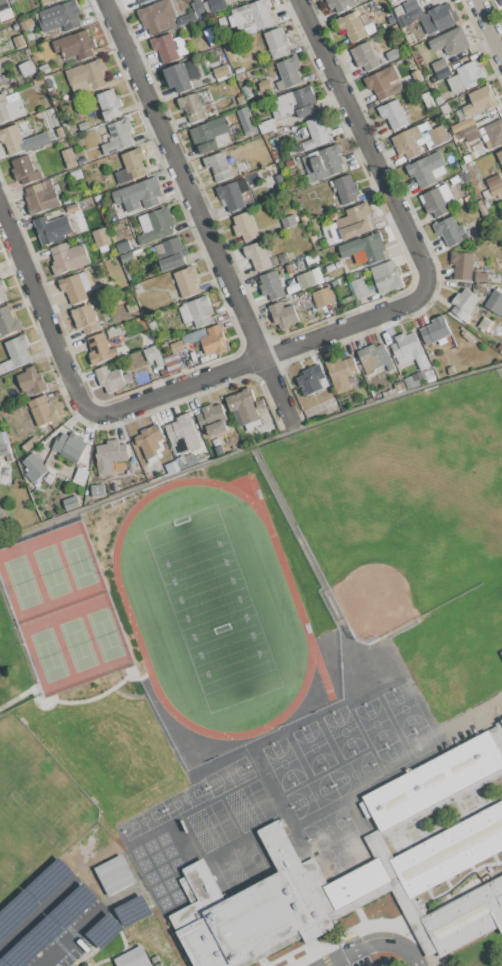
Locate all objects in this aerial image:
building: (402, 0)
building: (45, 1)
building: (141, 1)
building: (341, 4)
building: (3, 5)
building: (215, 5)
building: (410, 5)
building: (399, 10)
building: (199, 12)
building: (256, 12)
building: (5, 14)
building: (412, 14)
building: (158, 16)
building: (443, 16)
building: (60, 17)
building: (391, 20)
building: (26, 23)
road: (489, 25)
building: (15, 27)
building: (353, 27)
building: (451, 41)
building: (19, 42)
building: (213, 43)
building: (276, 43)
building: (76, 44)
building: (166, 48)
building: (393, 54)
building: (367, 57)
building: (439, 65)
building: (43, 68)
building: (26, 69)
building: (238, 70)
building: (221, 72)
building: (288, 73)
building: (442, 73)
building: (88, 74)
building: (469, 74)
building: (416, 77)
building: (179, 78)
building: (0, 83)
building: (383, 83)
building: (454, 84)
building: (264, 85)
building: (246, 91)
building: (428, 100)
building: (438, 100)
building: (291, 102)
building: (109, 104)
building: (477, 105)
building: (191, 106)
building: (10, 107)
building: (444, 108)
building: (305, 111)
building: (392, 114)
building: (44, 115)
building: (245, 119)
building: (266, 126)
building: (68, 129)
building: (470, 133)
building: (495, 133)
building: (316, 134)
building: (211, 135)
building: (435, 136)
building: (118, 137)
building: (12, 139)
building: (36, 141)
building: (407, 142)
road: (364, 143)
building: (274, 153)
building: (500, 157)
building: (69, 158)
building: (290, 163)
building: (323, 163)
building: (131, 166)
building: (218, 167)
building: (462, 167)
building: (271, 169)
building: (425, 169)
building: (25, 170)
building: (76, 175)
building: (465, 177)
building: (453, 180)
building: (493, 180)
building: (346, 189)
building: (245, 192)
building: (138, 195)
building: (42, 196)
building: (231, 196)
building: (466, 199)
building: (438, 200)
building: (487, 200)
road: (195, 205)
building: (72, 208)
building: (481, 208)
building: (288, 221)
building: (351, 223)
building: (158, 226)
building: (245, 226)
building: (52, 228)
building: (450, 231)
building: (101, 238)
building: (123, 246)
building: (365, 248)
building: (171, 254)
building: (258, 255)
building: (126, 257)
building: (68, 258)
building: (311, 258)
building: (297, 264)
building: (462, 265)
building: (288, 268)
building: (317, 275)
building: (386, 277)
building: (480, 277)
building: (492, 277)
building: (305, 280)
building: (84, 281)
building: (187, 281)
building: (271, 285)
building: (359, 288)
building: (74, 289)
building: (2, 292)
building: (323, 297)
building: (98, 299)
building: (495, 303)
building: (464, 305)
building: (131, 307)
building: (197, 312)
road: (43, 314)
building: (283, 314)
building: (85, 318)
building: (8, 322)
building: (484, 323)
building: (152, 326)
building: (435, 330)
building: (114, 332)
building: (467, 335)
building: (148, 338)
building: (214, 340)
building: (177, 347)
building: (100, 349)
building: (409, 350)
building: (18, 351)
building: (154, 355)
road: (261, 358)
building: (374, 358)
building: (172, 363)
building: (6, 366)
building: (449, 370)
building: (341, 373)
building: (426, 373)
building: (109, 378)
building: (126, 378)
building: (311, 379)
building: (32, 380)
building: (412, 381)
building: (398, 387)
building: (259, 403)
building: (244, 407)
building: (42, 411)
building: (212, 419)
building: (182, 432)
building: (1, 439)
building: (150, 440)
building: (30, 444)
building: (71, 444)
road: (249, 449)
building: (3, 450)
building: (113, 451)
building: (219, 451)
building: (0, 461)
building: (32, 463)
building: (181, 463)
building: (0, 465)
building: (174, 466)
building: (30, 474)
building: (17, 482)
building: (125, 482)
park: (212, 610)
building: (501, 653)
building: (498, 731)
park: (34, 787)
building: (279, 848)
building: (451, 850)
building: (114, 874)
road: (36, 911)
building: (466, 917)
road: (82, 922)
road: (376, 945)
building: (133, 958)

